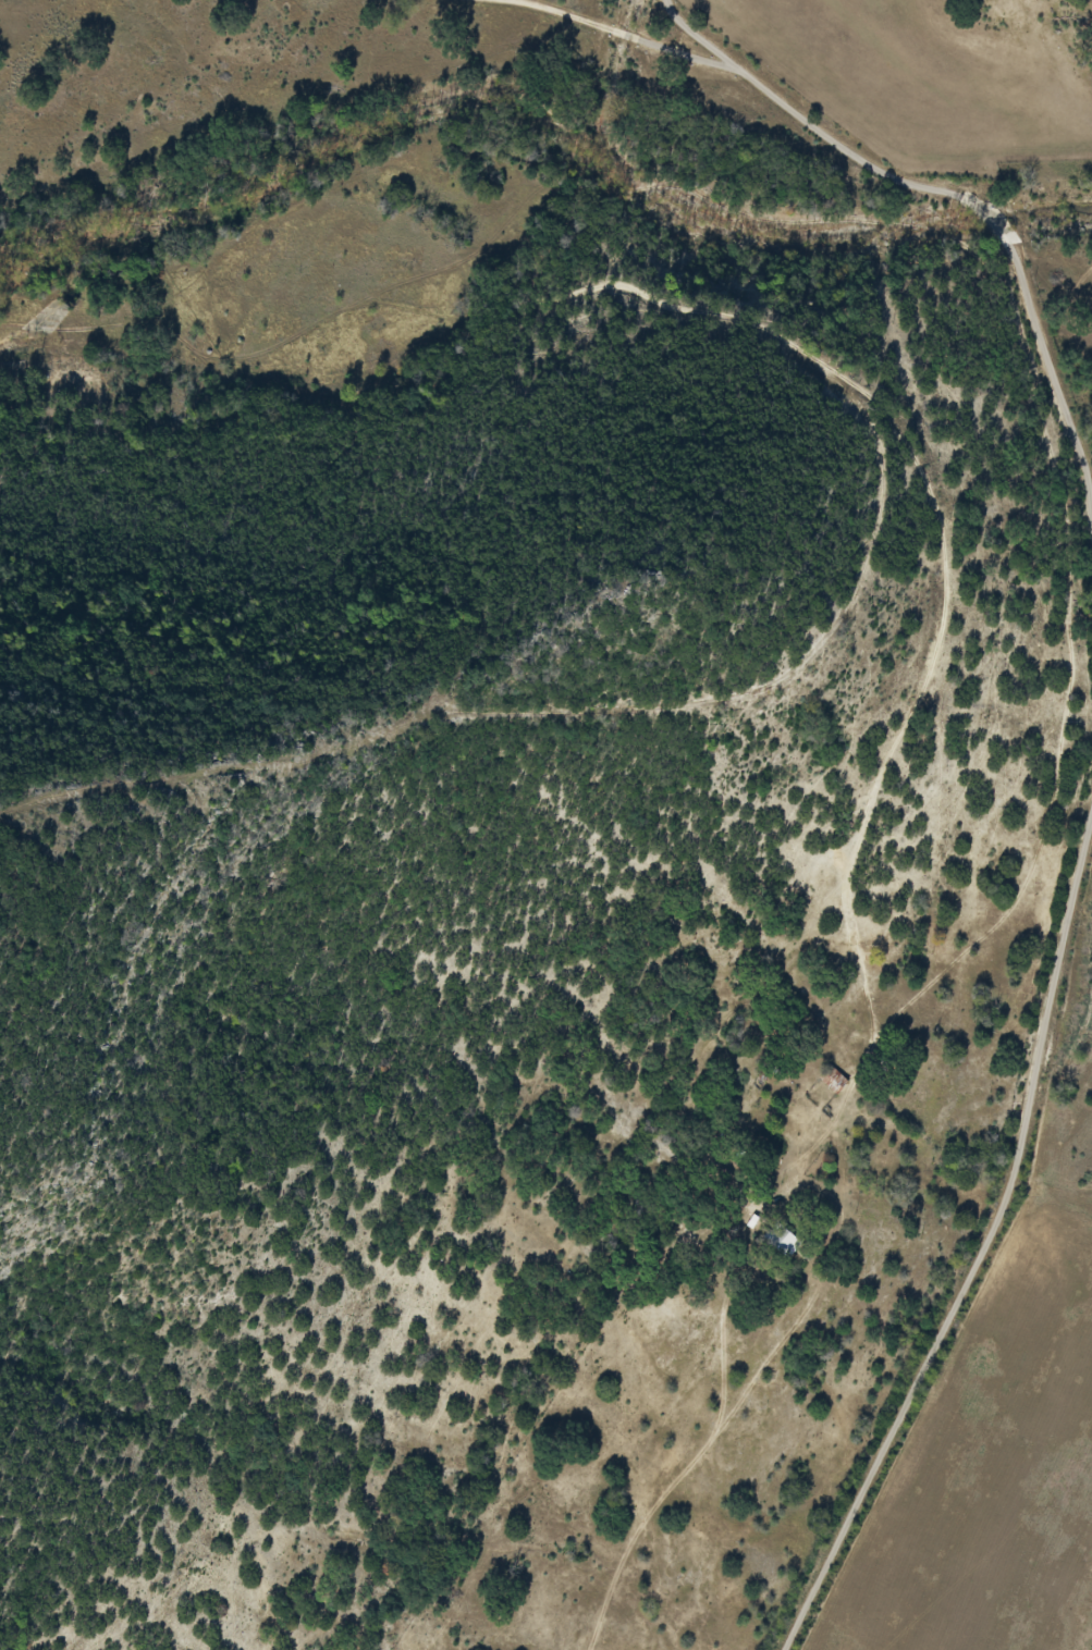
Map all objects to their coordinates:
road: (944, 188)
road: (983, 1256)
road: (696, 1462)

